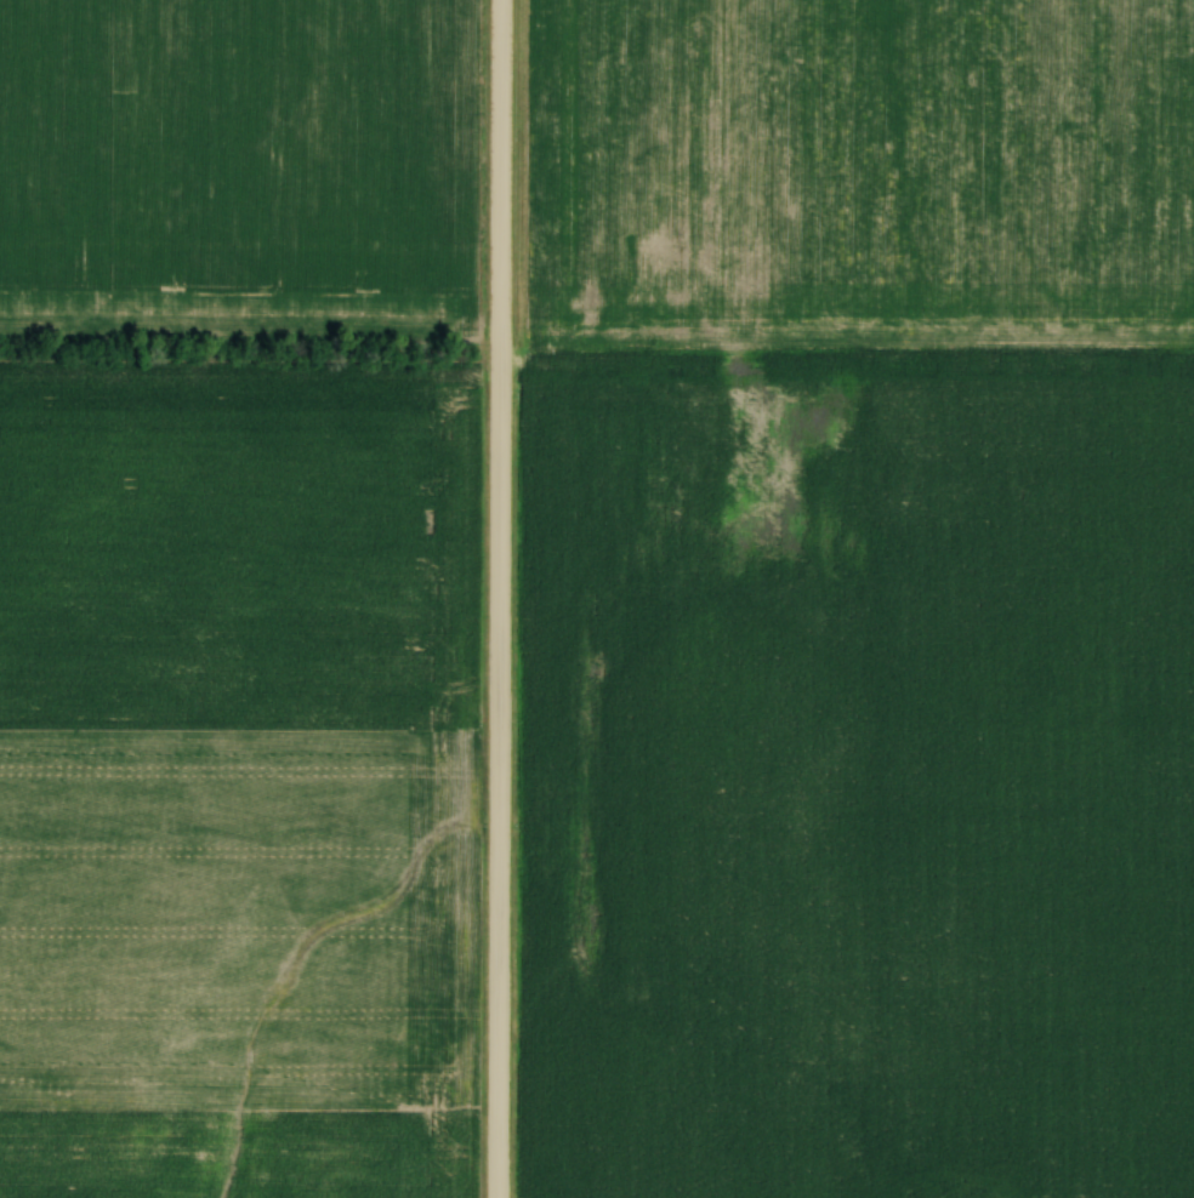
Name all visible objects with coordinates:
road: (499, 599)

